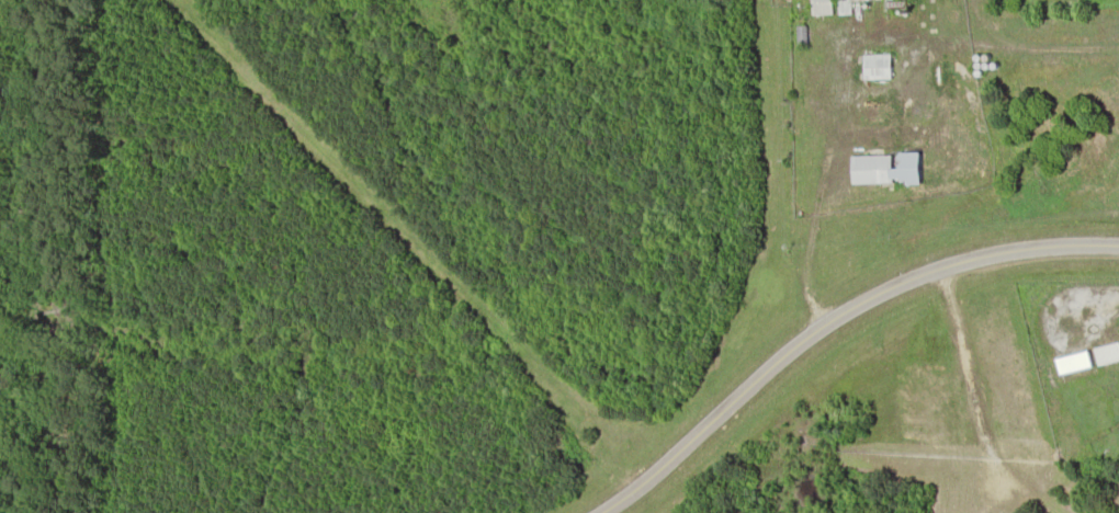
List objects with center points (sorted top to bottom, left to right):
building: (820, 7)
building: (875, 67)
building: (883, 168)
road: (829, 319)
building: (1106, 353)
building: (1072, 362)

